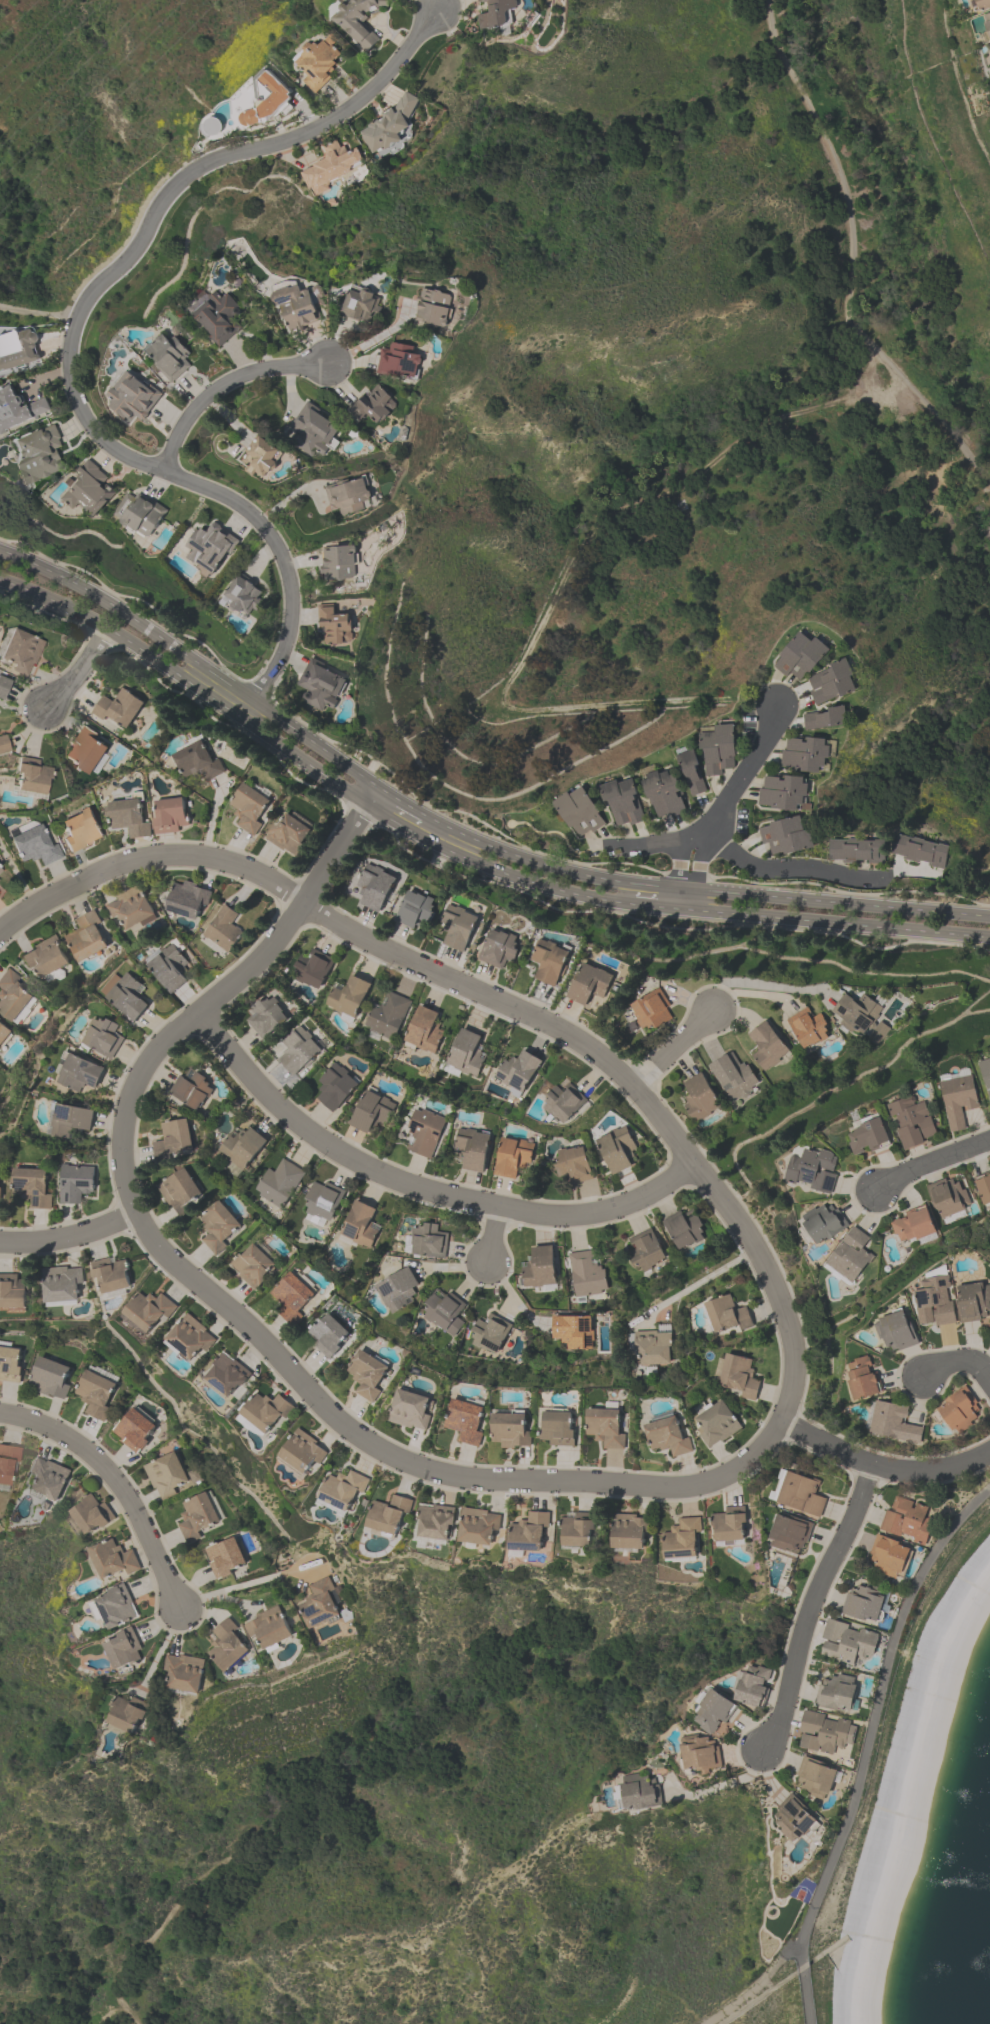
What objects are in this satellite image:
building: (480, 0)
building: (983, 3)
road: (440, 5)
building: (497, 13)
building: (987, 20)
building: (357, 21)
building: (317, 61)
building: (267, 99)
park: (106, 119)
building: (211, 126)
building: (393, 126)
building: (331, 166)
road: (855, 254)
building: (360, 301)
building: (297, 303)
building: (434, 306)
building: (830, 308)
building: (218, 316)
road: (72, 337)
road: (373, 339)
building: (17, 348)
building: (169, 356)
building: (399, 360)
road: (221, 388)
building: (131, 395)
park: (671, 395)
building: (374, 404)
building: (17, 407)
building: (315, 430)
building: (38, 455)
building: (262, 456)
building: (88, 489)
building: (349, 494)
building: (139, 513)
building: (209, 547)
building: (338, 562)
park: (134, 576)
building: (243, 595)
building: (334, 624)
building: (19, 649)
building: (793, 653)
building: (810, 658)
road: (193, 660)
road: (76, 668)
building: (831, 673)
building: (3, 684)
building: (320, 684)
building: (833, 689)
building: (118, 707)
building: (826, 718)
building: (3, 743)
building: (726, 743)
building: (810, 745)
building: (86, 750)
building: (710, 753)
building: (197, 761)
building: (801, 761)
building: (691, 771)
building: (31, 774)
road: (328, 777)
building: (787, 784)
building: (672, 793)
building: (655, 794)
road: (727, 797)
building: (779, 798)
building: (614, 800)
building: (631, 801)
road: (402, 802)
building: (249, 807)
building: (587, 808)
building: (571, 813)
building: (129, 815)
building: (169, 815)
building: (80, 828)
building: (780, 829)
building: (288, 834)
road: (649, 843)
building: (792, 843)
building: (33, 845)
building: (857, 849)
building: (919, 849)
road: (807, 866)
building: (0, 869)
building: (0, 875)
building: (376, 887)
road: (702, 890)
building: (186, 898)
road: (685, 899)
building: (130, 907)
building: (416, 910)
road: (837, 922)
building: (460, 928)
building: (223, 929)
building: (86, 936)
building: (499, 949)
building: (45, 956)
building: (550, 961)
building: (169, 967)
building: (313, 969)
building: (589, 983)
road: (761, 984)
building: (11, 995)
building: (125, 995)
building: (348, 996)
road: (496, 1000)
building: (653, 1009)
building: (859, 1012)
building: (388, 1015)
building: (266, 1017)
building: (808, 1028)
building: (424, 1030)
building: (4, 1032)
building: (879, 1033)
building: (103, 1036)
building: (768, 1045)
building: (299, 1049)
road: (677, 1050)
building: (467, 1053)
building: (517, 1070)
building: (79, 1071)
building: (986, 1072)
building: (735, 1077)
building: (335, 1086)
building: (191, 1087)
building: (700, 1097)
building: (959, 1099)
building: (562, 1100)
building: (373, 1111)
building: (70, 1119)
building: (914, 1120)
building: (425, 1131)
building: (867, 1134)
building: (173, 1138)
road: (331, 1144)
building: (241, 1146)
building: (472, 1148)
building: (618, 1148)
building: (513, 1156)
building: (574, 1164)
road: (933, 1166)
building: (814, 1170)
building: (75, 1182)
building: (279, 1183)
building: (31, 1186)
building: (984, 1186)
building: (0, 1190)
building: (180, 1191)
building: (948, 1198)
building: (323, 1199)
road: (606, 1211)
building: (825, 1223)
building: (359, 1224)
building: (915, 1225)
building: (218, 1226)
building: (683, 1228)
road: (497, 1236)
road: (71, 1237)
building: (428, 1240)
building: (645, 1249)
building: (851, 1256)
building: (252, 1265)
building: (540, 1267)
building: (110, 1274)
building: (586, 1274)
road: (707, 1277)
building: (61, 1283)
building: (397, 1289)
building: (12, 1291)
building: (292, 1297)
road: (514, 1299)
building: (936, 1302)
building: (974, 1302)
road: (226, 1306)
building: (148, 1309)
building: (444, 1311)
building: (726, 1312)
building: (573, 1330)
building: (896, 1330)
building: (490, 1333)
building: (328, 1335)
building: (189, 1337)
building: (653, 1346)
road: (959, 1361)
building: (9, 1364)
building: (227, 1373)
building: (367, 1374)
building: (739, 1375)
building: (50, 1377)
building: (865, 1380)
building: (95, 1393)
building: (410, 1409)
building: (959, 1409)
building: (264, 1410)
building: (465, 1420)
building: (894, 1422)
building: (716, 1423)
building: (605, 1426)
building: (557, 1427)
building: (509, 1428)
building: (133, 1429)
building: (667, 1435)
building: (301, 1450)
building: (7, 1461)
road: (882, 1468)
building: (165, 1473)
building: (46, 1479)
road: (123, 1486)
building: (341, 1489)
building: (801, 1492)
building: (91, 1513)
building: (388, 1514)
building: (196, 1517)
building: (907, 1519)
building: (435, 1520)
building: (729, 1524)
building: (476, 1525)
building: (576, 1529)
building: (628, 1530)
building: (528, 1531)
building: (789, 1531)
building: (681, 1538)
building: (889, 1556)
building: (224, 1557)
building: (113, 1559)
road: (244, 1585)
building: (318, 1603)
building: (865, 1603)
road: (809, 1606)
building: (113, 1608)
building: (269, 1627)
building: (846, 1642)
building: (226, 1645)
building: (123, 1649)
building: (183, 1673)
building: (754, 1686)
building: (836, 1692)
building: (714, 1711)
building: (129, 1715)
building: (825, 1732)
road: (864, 1744)
building: (700, 1754)
building: (816, 1776)
road: (722, 1784)
dam: (894, 1784)
building: (638, 1795)
building: (793, 1818)
road: (755, 1988)

